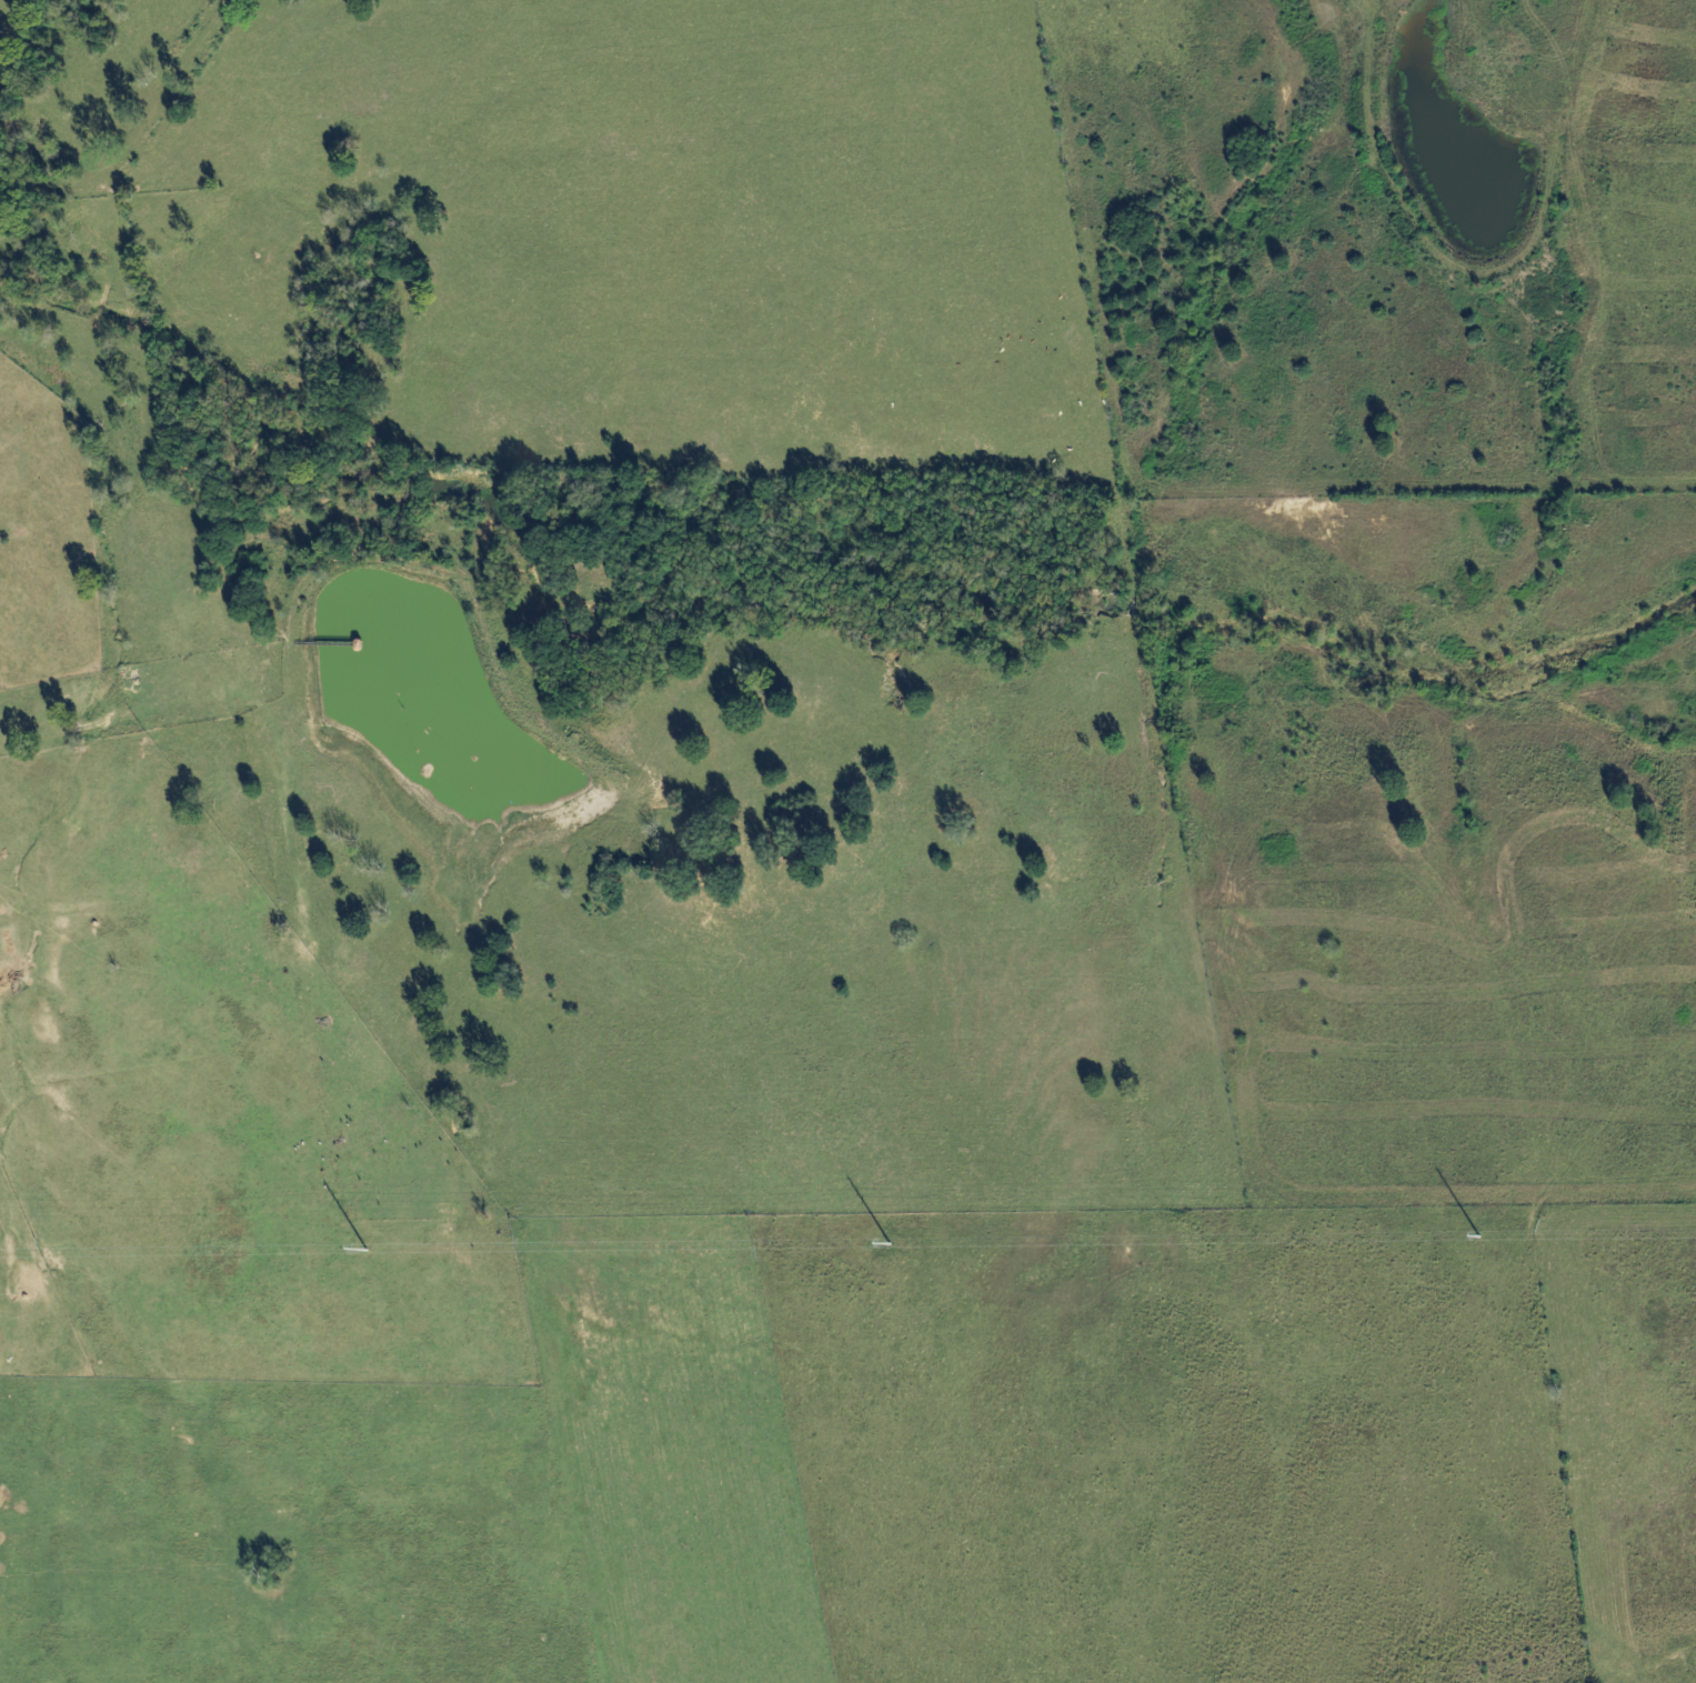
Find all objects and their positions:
power tower: (1485, 1236)
power tower: (893, 1244)
power tower: (370, 1251)

